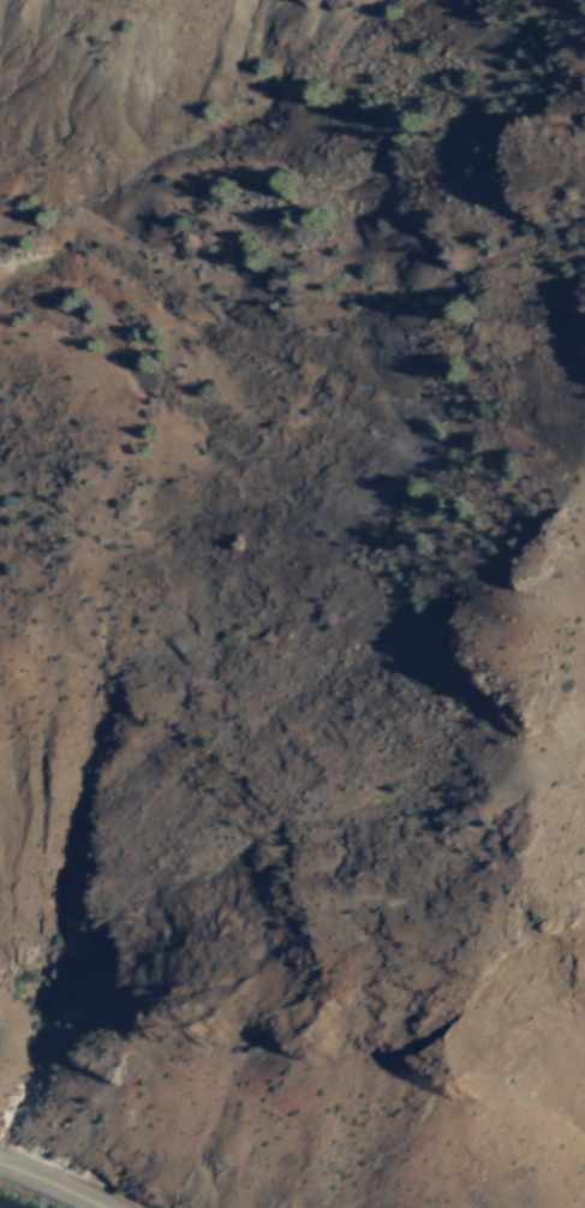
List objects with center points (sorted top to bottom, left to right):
road: (41, 1188)

